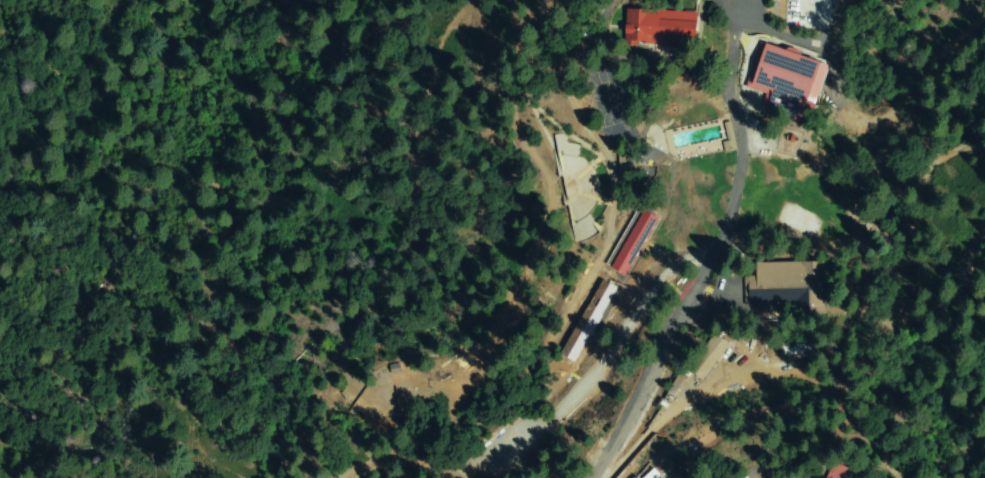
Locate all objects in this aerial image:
building: (662, 28)
building: (791, 81)
building: (730, 137)
building: (626, 168)
road: (720, 211)
building: (635, 243)
building: (897, 261)
building: (789, 287)
building: (737, 290)
building: (589, 322)
building: (799, 349)
building: (709, 357)
building: (835, 369)
road: (593, 435)
building: (843, 472)
building: (653, 475)
building: (636, 477)

